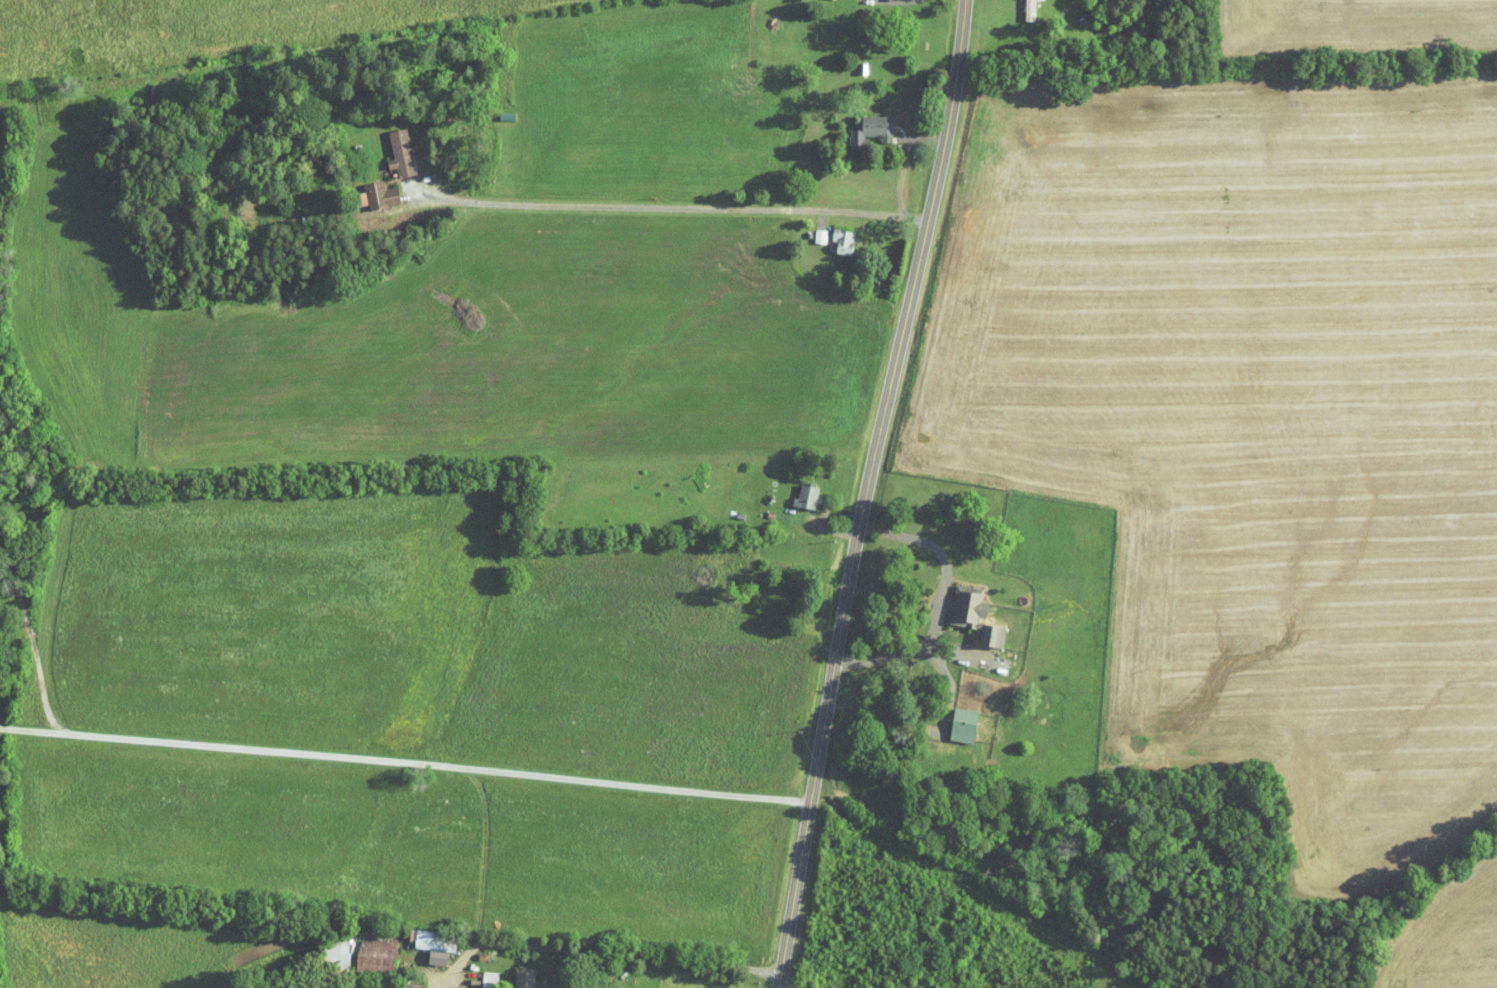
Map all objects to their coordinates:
building: (1018, 6)
building: (860, 123)
building: (390, 145)
road: (902, 157)
building: (369, 188)
road: (675, 208)
building: (809, 229)
building: (832, 234)
building: (795, 489)
road: (869, 492)
road: (877, 510)
road: (940, 605)
building: (964, 609)
road: (29, 626)
building: (952, 718)
road: (406, 759)
building: (423, 939)
building: (365, 946)
road: (600, 951)
building: (477, 975)
building: (512, 975)

